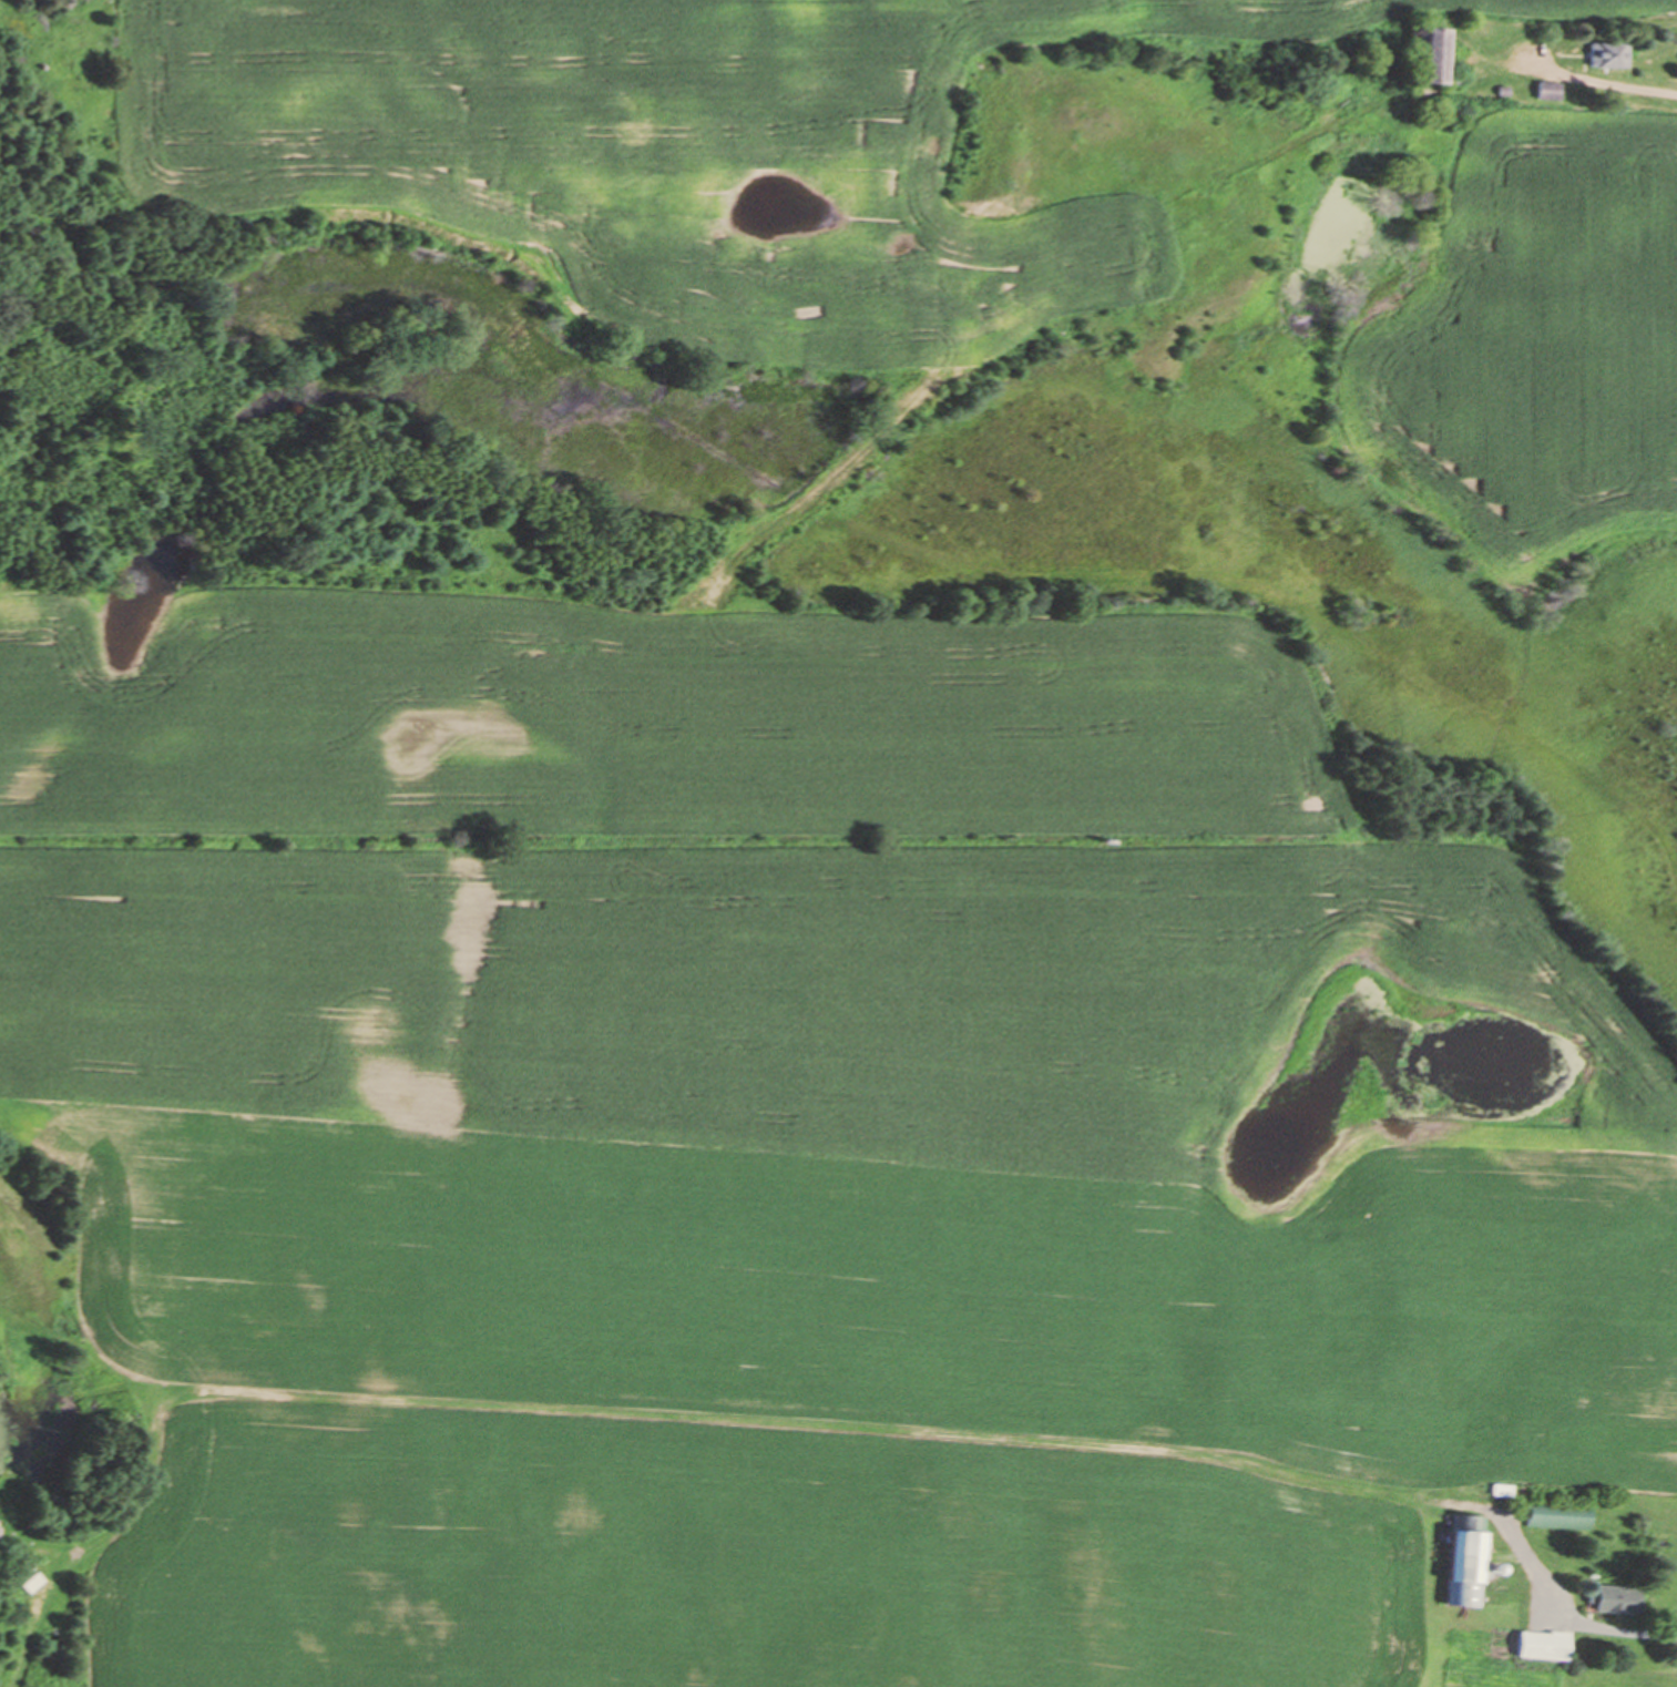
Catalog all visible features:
building: (1435, 54)
building: (1609, 54)
building: (1550, 90)
building: (1471, 858)
building: (1462, 879)
building: (1560, 1515)
building: (1468, 1561)
building: (1618, 1599)
road: (1609, 1620)
building: (1544, 1646)

